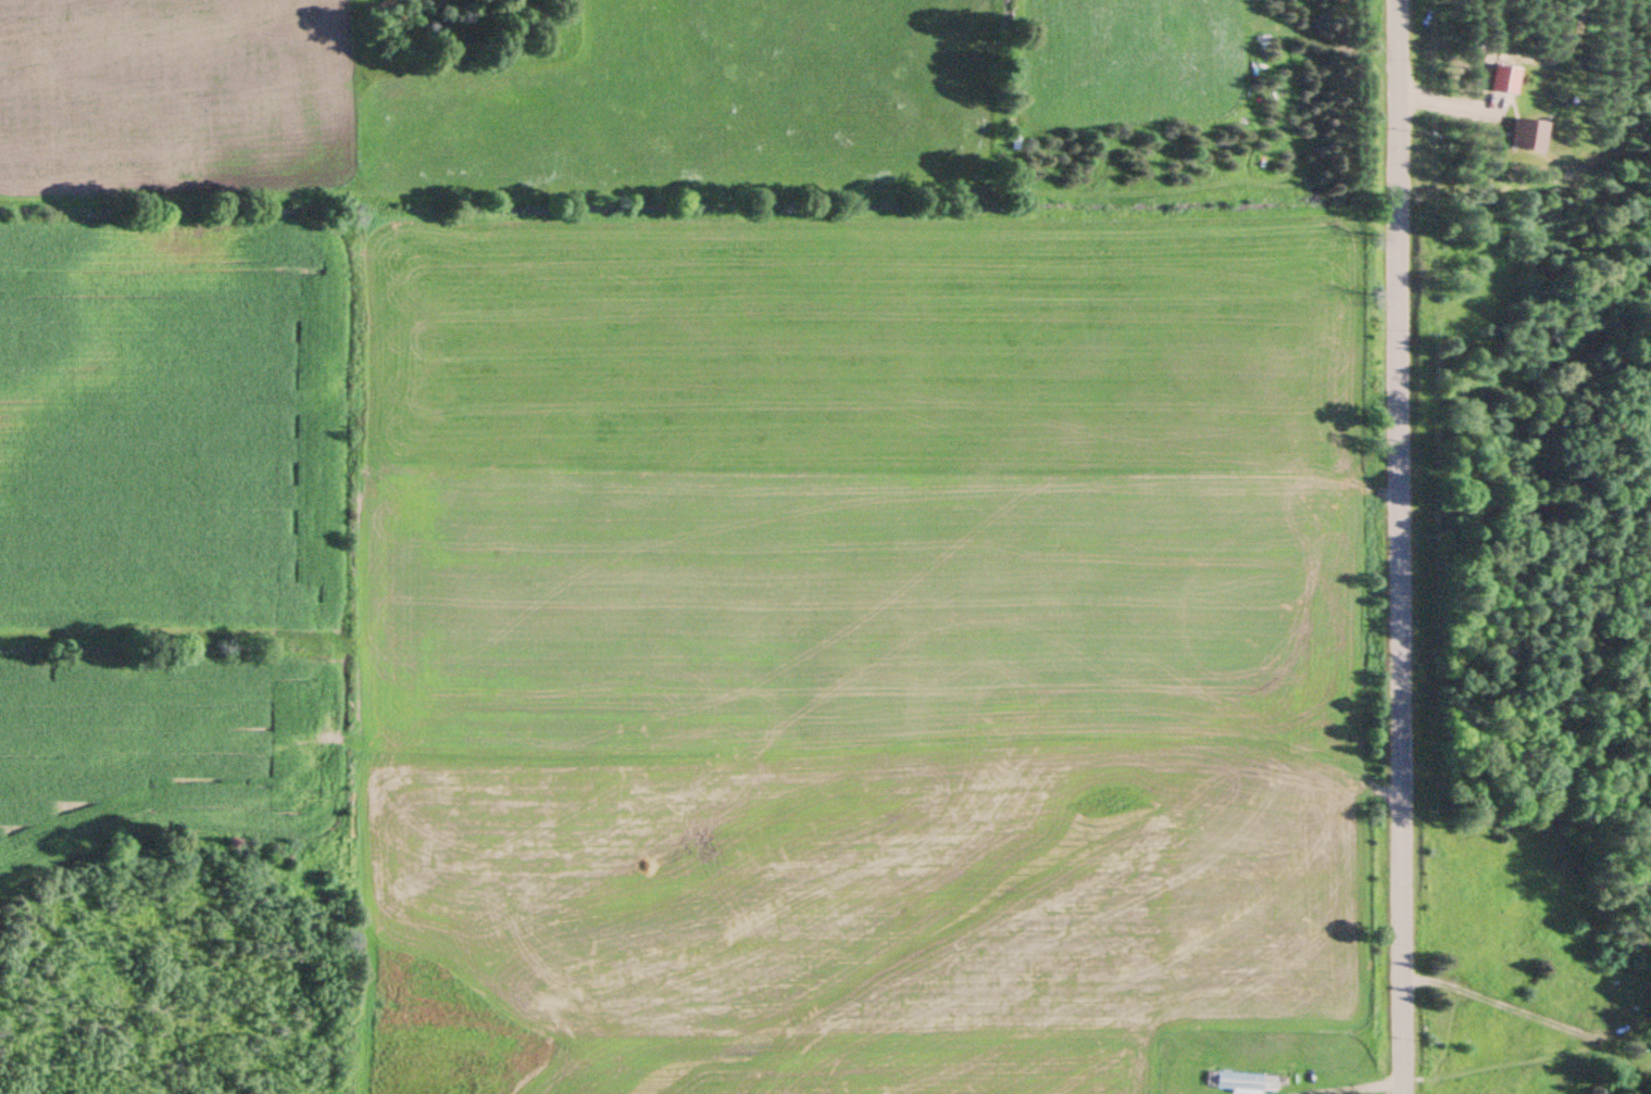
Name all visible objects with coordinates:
building: (1502, 78)
building: (1526, 134)
road: (1396, 546)
building: (1238, 1083)

